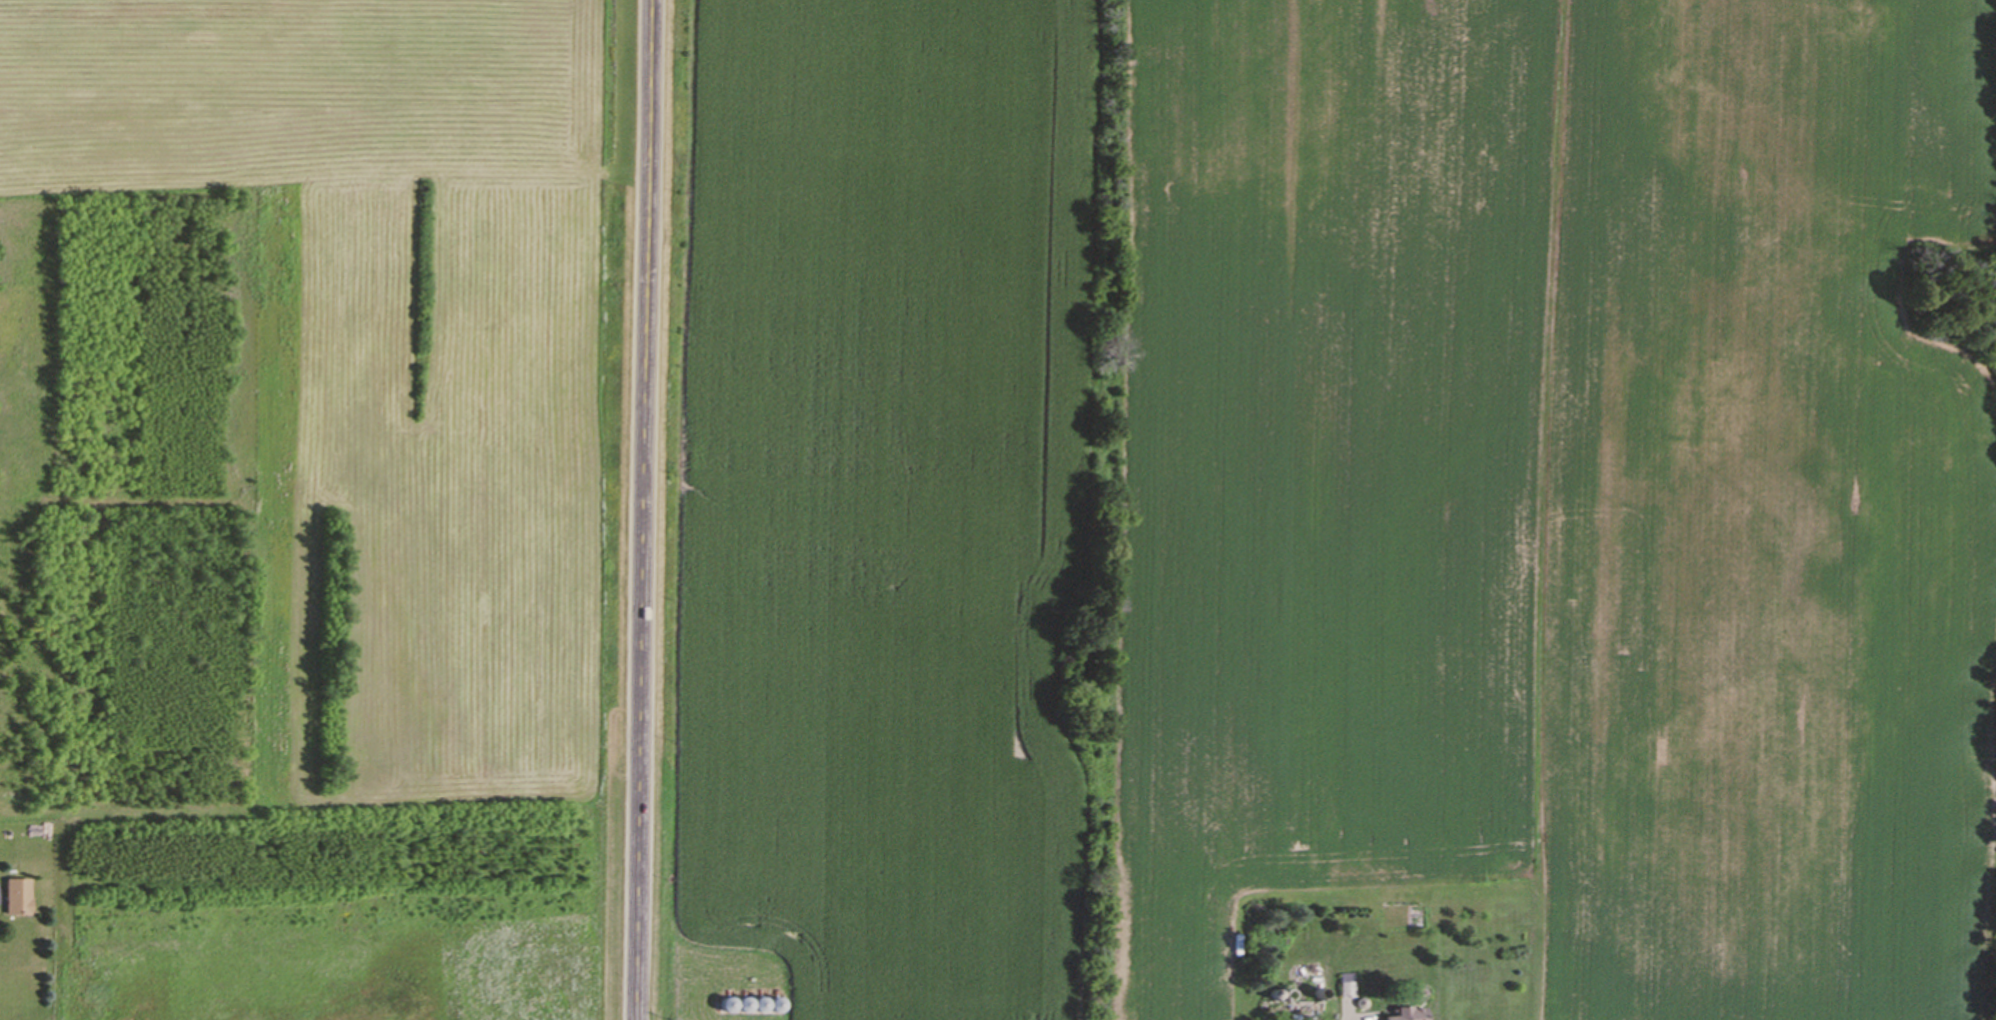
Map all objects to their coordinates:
crop: (1344, 492)
road: (645, 510)
building: (19, 899)
building: (1348, 986)
building: (1414, 1014)

